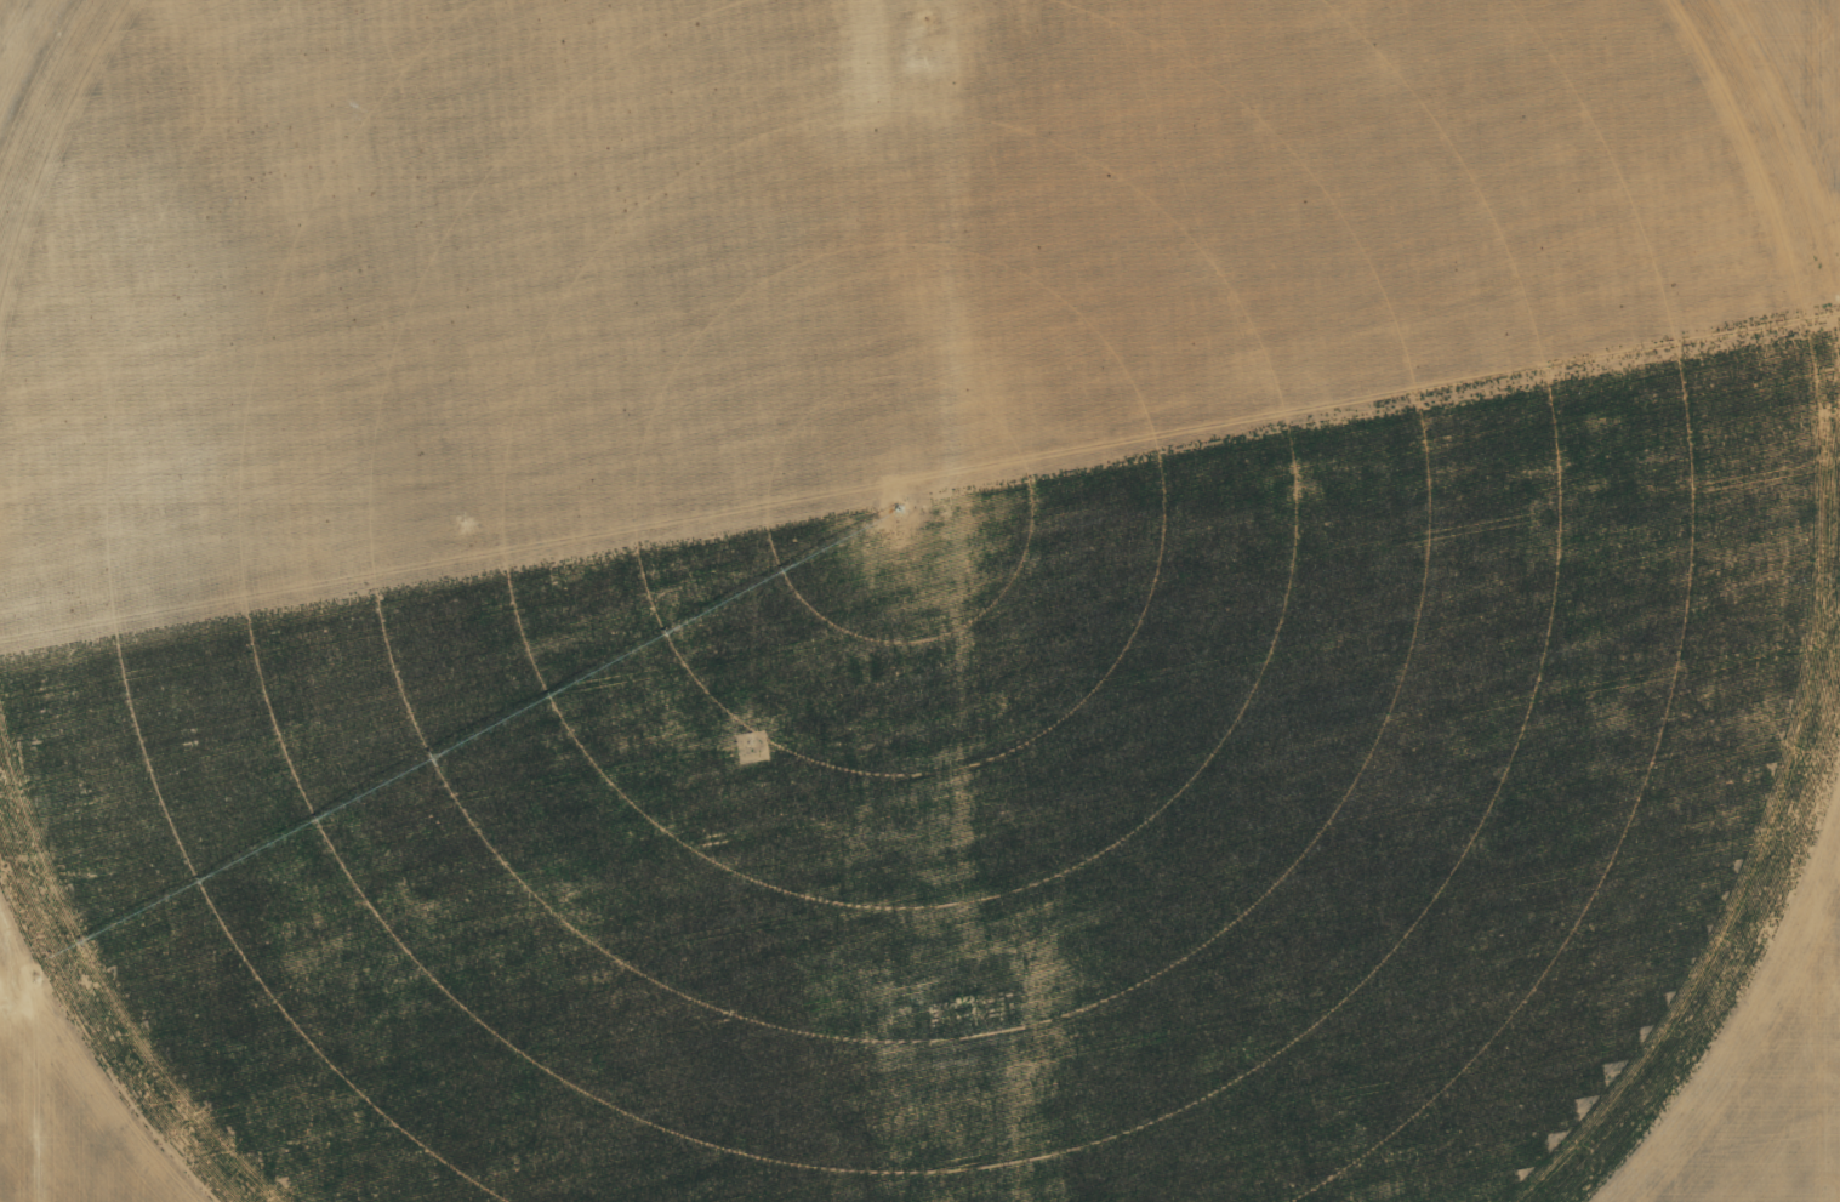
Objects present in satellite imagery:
road: (32, 1120)
road: (972, 1144)

